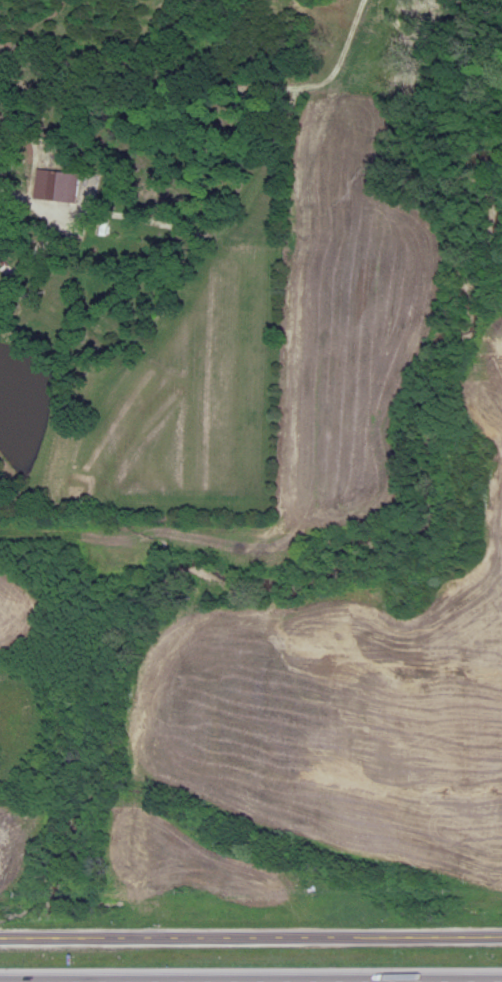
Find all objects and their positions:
road: (4, 186)
building: (68, 188)
building: (1, 261)
road: (250, 936)
road: (387, 981)

